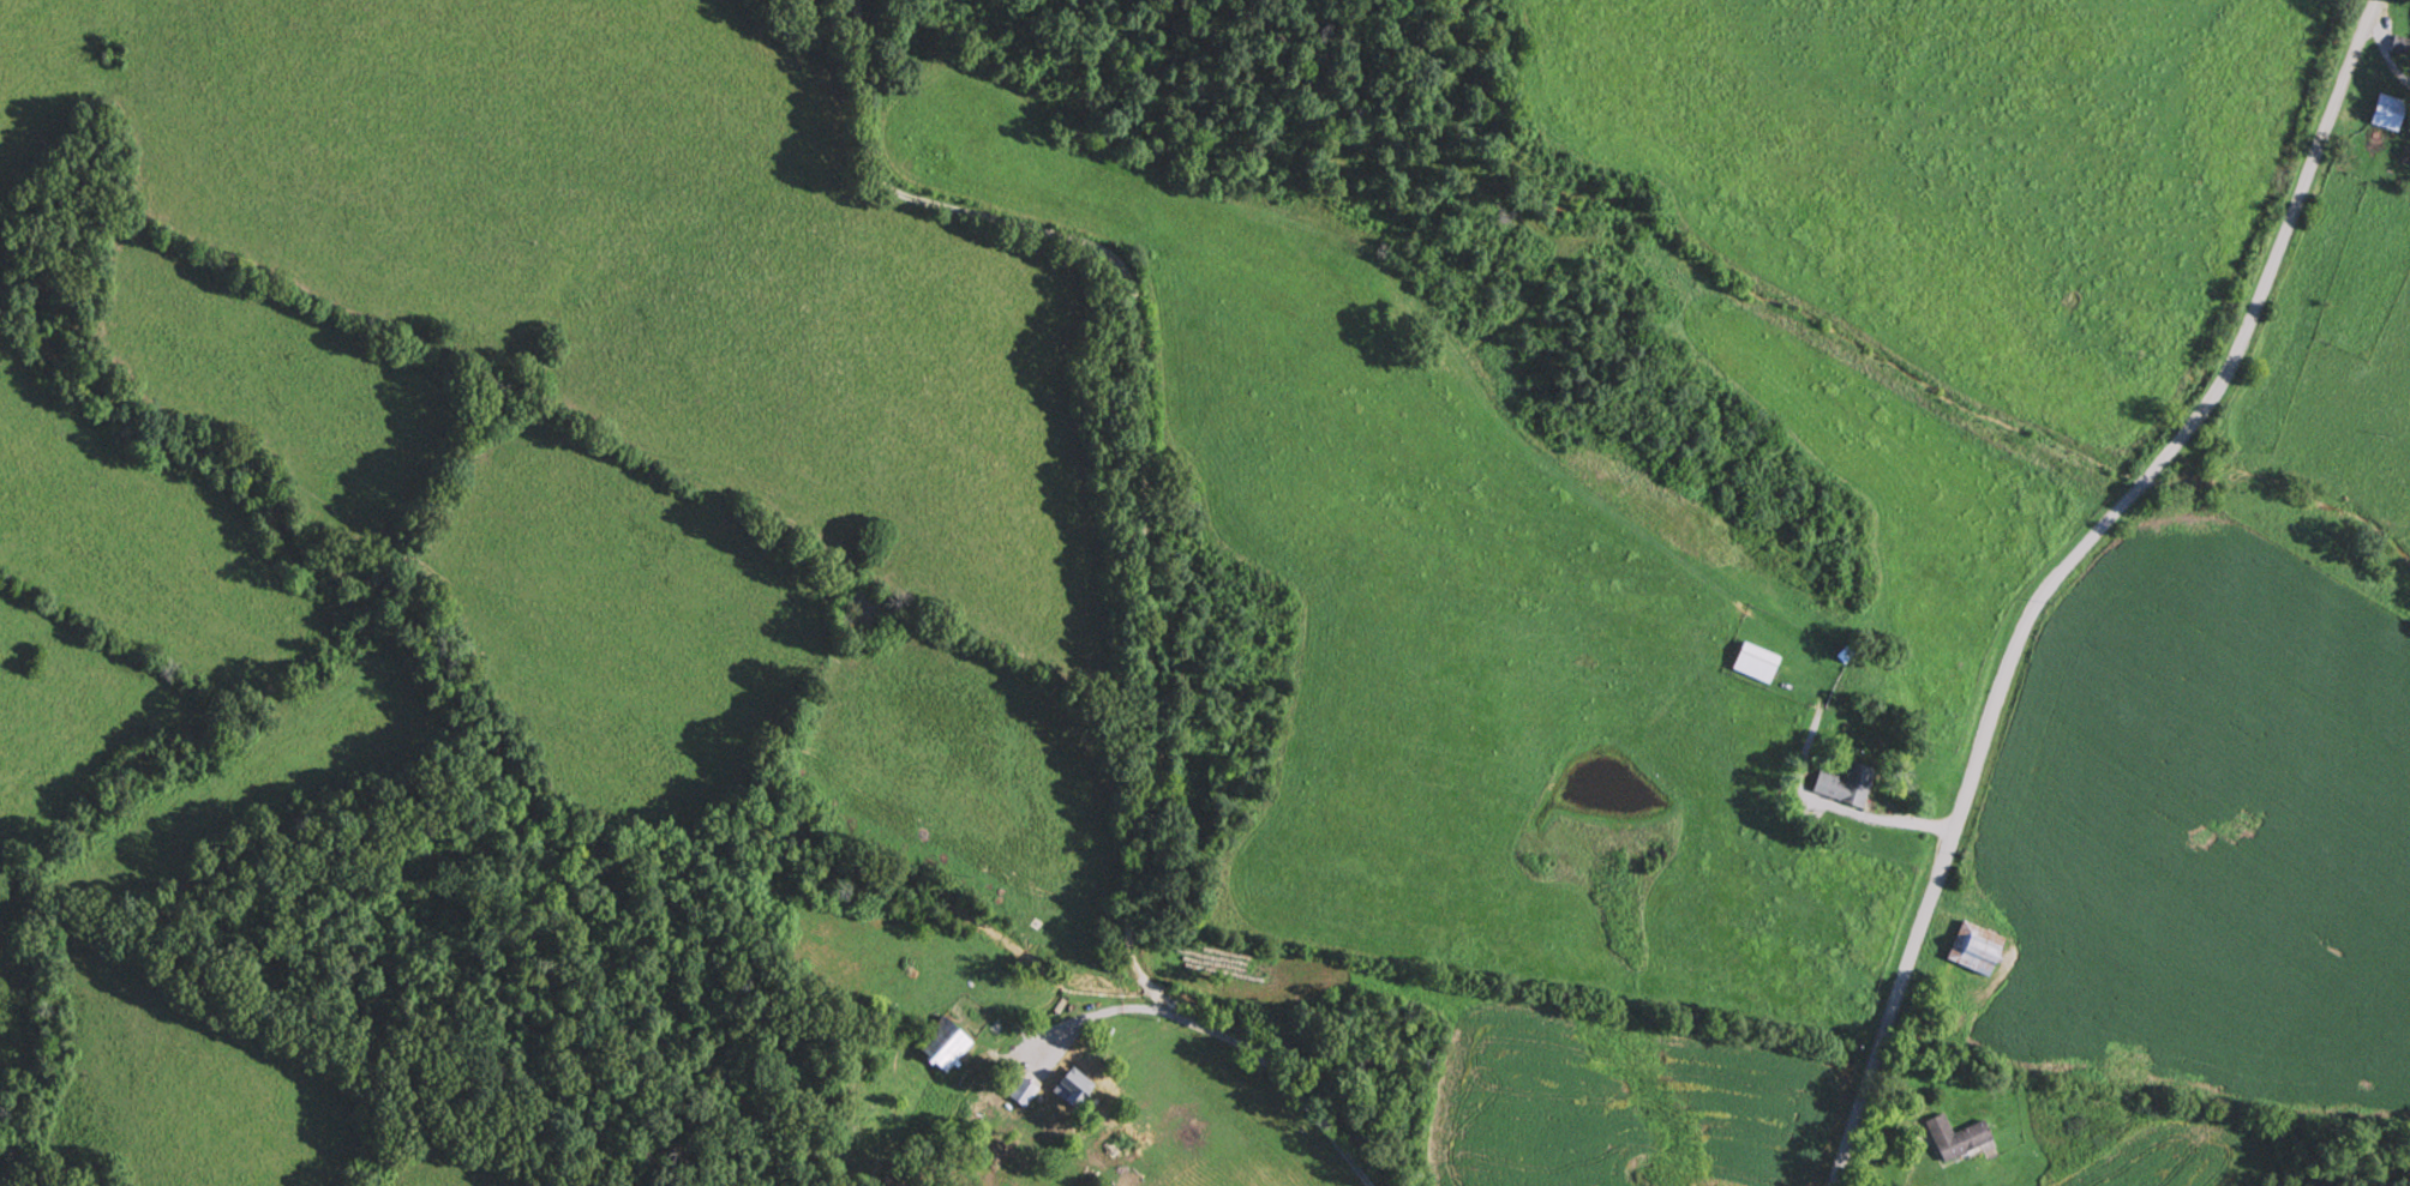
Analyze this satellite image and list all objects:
road: (2138, 26)
road: (2157, 54)
building: (2384, 110)
road: (1116, 454)
road: (2088, 585)
building: (1761, 663)
building: (1848, 784)
building: (1970, 947)
building: (947, 1041)
building: (1074, 1089)
building: (1024, 1091)
building: (1953, 1134)

